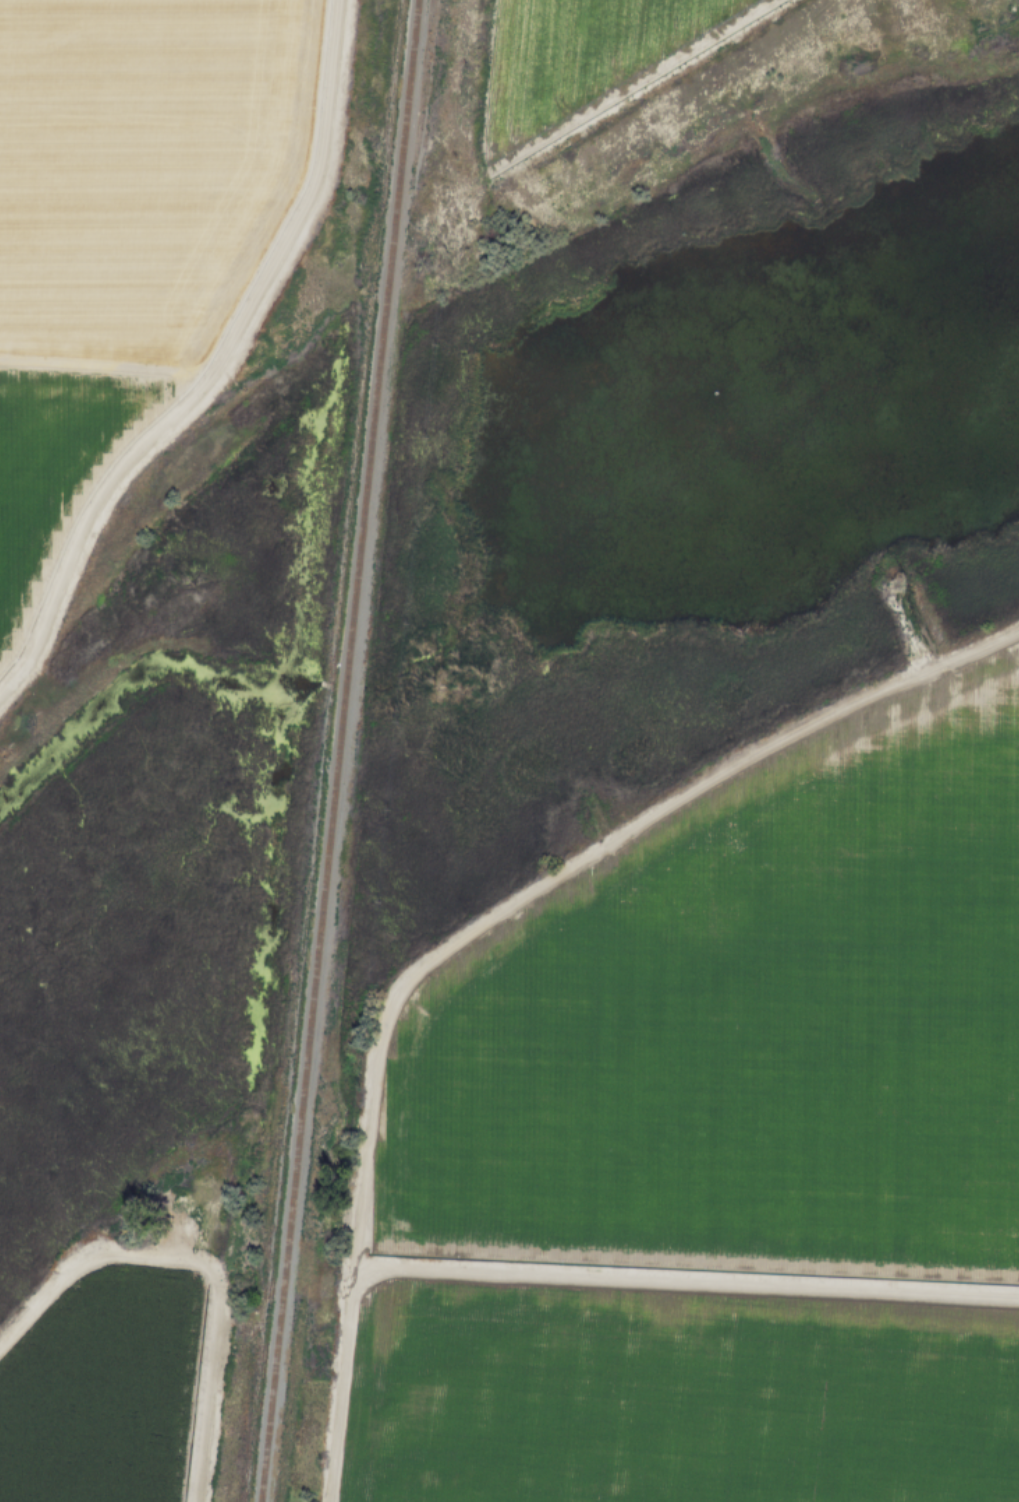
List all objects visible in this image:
road: (214, 366)
road: (822, 720)
railway: (339, 751)
road: (369, 1101)
road: (194, 1266)
road: (681, 1280)

